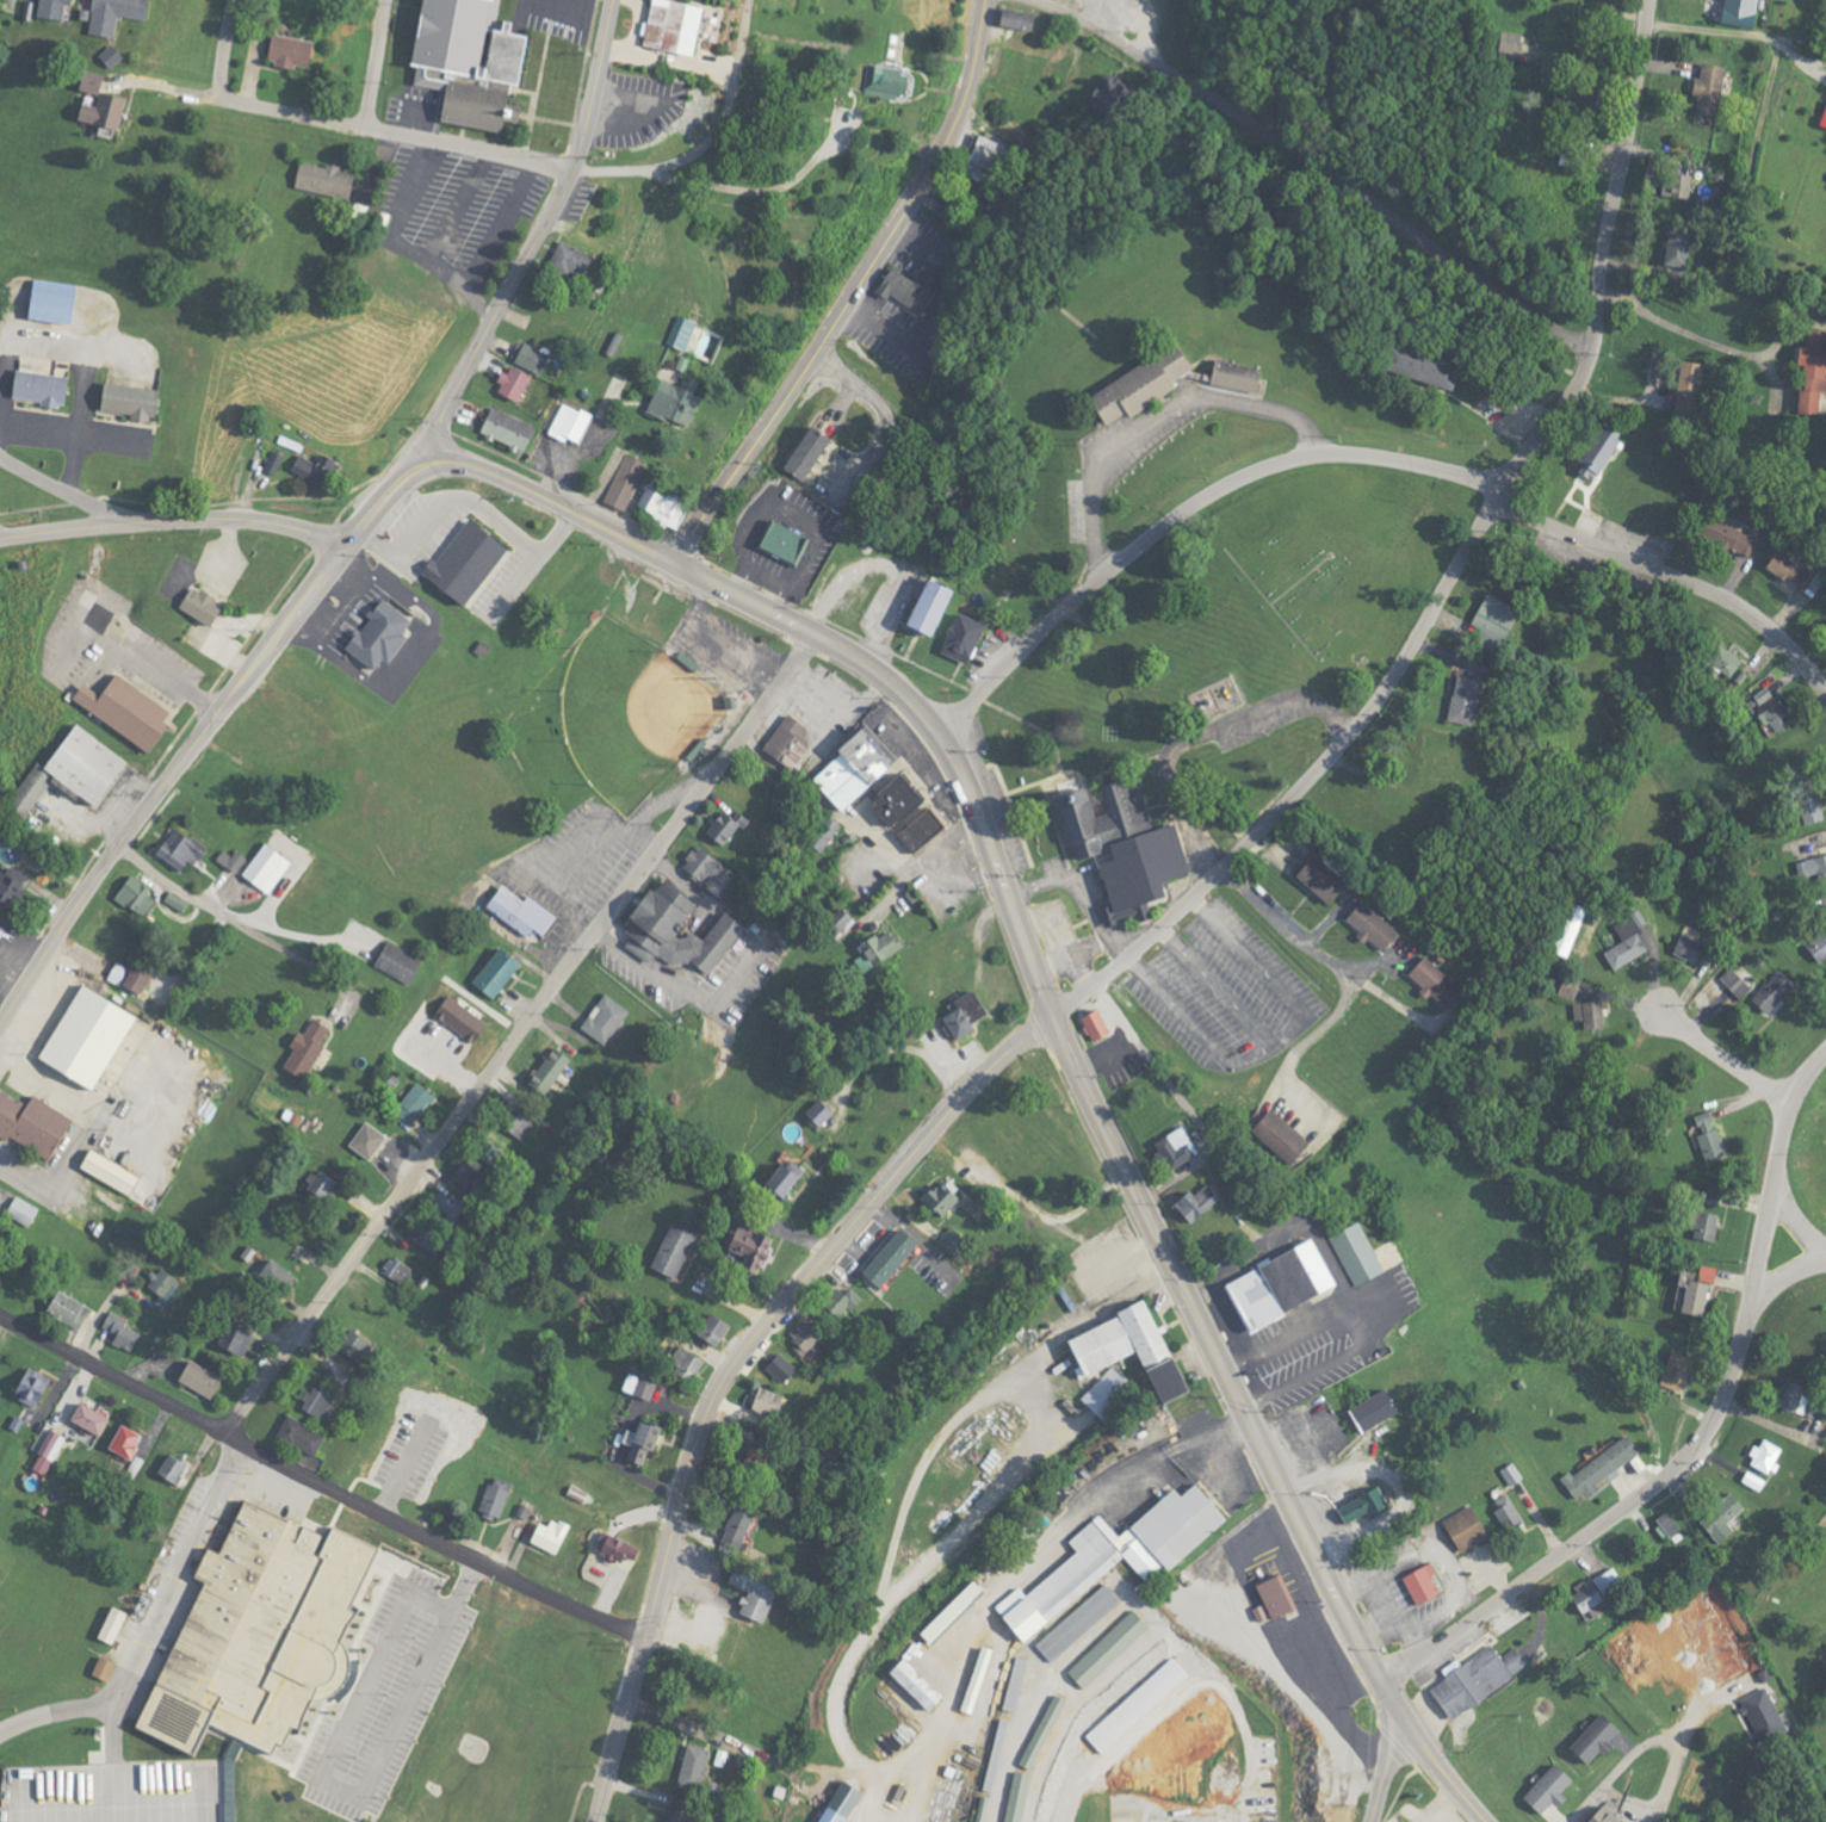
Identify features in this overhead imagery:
building: (56, 0)
road: (570, 1)
building: (105, 12)
building: (1008, 17)
parking lot: (547, 24)
building: (670, 25)
road: (223, 49)
building: (283, 49)
road: (1771, 50)
road: (376, 64)
building: (459, 64)
building: (877, 79)
building: (93, 99)
parking lot: (635, 107)
road: (376, 131)
road: (706, 138)
road: (1317, 166)
building: (318, 178)
road: (756, 191)
parking lot: (453, 212)
road: (536, 241)
building: (563, 258)
building: (908, 285)
road: (854, 296)
road: (1684, 322)
building: (675, 331)
building: (522, 353)
building: (506, 382)
building: (37, 389)
building: (667, 398)
building: (124, 402)
road: (881, 405)
road: (1156, 420)
building: (565, 421)
building: (502, 429)
road: (64, 432)
road: (584, 442)
building: (1596, 450)
building: (798, 451)
building: (619, 479)
road: (45, 481)
road: (1212, 491)
road: (470, 500)
building: (658, 508)
road: (126, 513)
road: (173, 521)
building: (776, 541)
road: (657, 553)
road: (712, 560)
park: (1310, 560)
building: (459, 564)
road: (1456, 566)
road: (1673, 578)
road: (346, 605)
building: (196, 606)
building: (920, 606)
road: (728, 607)
building: (372, 633)
building: (957, 634)
building: (1094, 693)
park: (621, 706)
road: (958, 708)
building: (120, 714)
road: (203, 733)
road: (1201, 738)
building: (784, 740)
building: (79, 764)
building: (844, 768)
building: (24, 792)
building: (886, 799)
building: (722, 823)
building: (916, 829)
building: (819, 831)
road: (599, 841)
building: (175, 847)
building: (1119, 849)
building: (227, 857)
building: (704, 864)
road: (921, 864)
building: (262, 866)
road: (172, 885)
building: (130, 894)
building: (171, 899)
building: (516, 910)
building: (834, 921)
building: (648, 927)
road: (296, 937)
building: (874, 948)
road: (1027, 952)
road: (293, 953)
building: (394, 961)
road: (1262, 968)
road: (1342, 969)
building: (490, 971)
building: (126, 973)
road: (682, 994)
building: (959, 1011)
building: (600, 1016)
building: (1090, 1023)
road: (25, 1028)
road: (515, 1031)
building: (80, 1035)
road: (903, 1045)
building: (301, 1047)
road: (1259, 1052)
road: (1725, 1061)
building: (544, 1068)
building: (409, 1102)
building: (817, 1110)
building: (514, 1121)
building: (30, 1123)
building: (1268, 1135)
building: (363, 1139)
building: (1168, 1145)
building: (485, 1148)
building: (105, 1170)
building: (779, 1171)
road: (11, 1172)
building: (468, 1176)
building: (317, 1180)
building: (934, 1195)
building: (1191, 1198)
building: (445, 1206)
building: (19, 1210)
road: (1797, 1231)
building: (426, 1235)
building: (948, 1237)
building: (743, 1244)
building: (669, 1247)
building: (1353, 1251)
building: (301, 1252)
building: (881, 1254)
building: (395, 1268)
building: (273, 1275)
building: (1275, 1282)
building: (162, 1283)
building: (832, 1296)
road: (1122, 1297)
building: (64, 1306)
road: (1356, 1325)
building: (710, 1326)
building: (118, 1327)
building: (804, 1335)
building: (1116, 1337)
building: (231, 1338)
building: (353, 1343)
building: (682, 1361)
building: (778, 1365)
road: (734, 1368)
building: (197, 1375)
building: (1160, 1380)
building: (636, 1383)
building: (1106, 1390)
building: (312, 1400)
building: (761, 1401)
building: (1366, 1408)
building: (298, 1433)
road: (1702, 1439)
building: (633, 1444)
building: (380, 1460)
road: (1317, 1462)
road: (320, 1481)
building: (491, 1495)
building: (1358, 1501)
building: (521, 1508)
building: (735, 1520)
building: (1466, 1522)
building: (546, 1533)
building: (611, 1547)
building: (1417, 1580)
building: (747, 1585)
road: (171, 1589)
road: (456, 1603)
park: (1800, 1625)
road: (1395, 1702)
road: (57, 1709)
road: (1677, 1761)
road: (1381, 1767)
road: (1621, 1767)
road: (1447, 1772)
road: (1440, 1803)
road: (1442, 1815)

